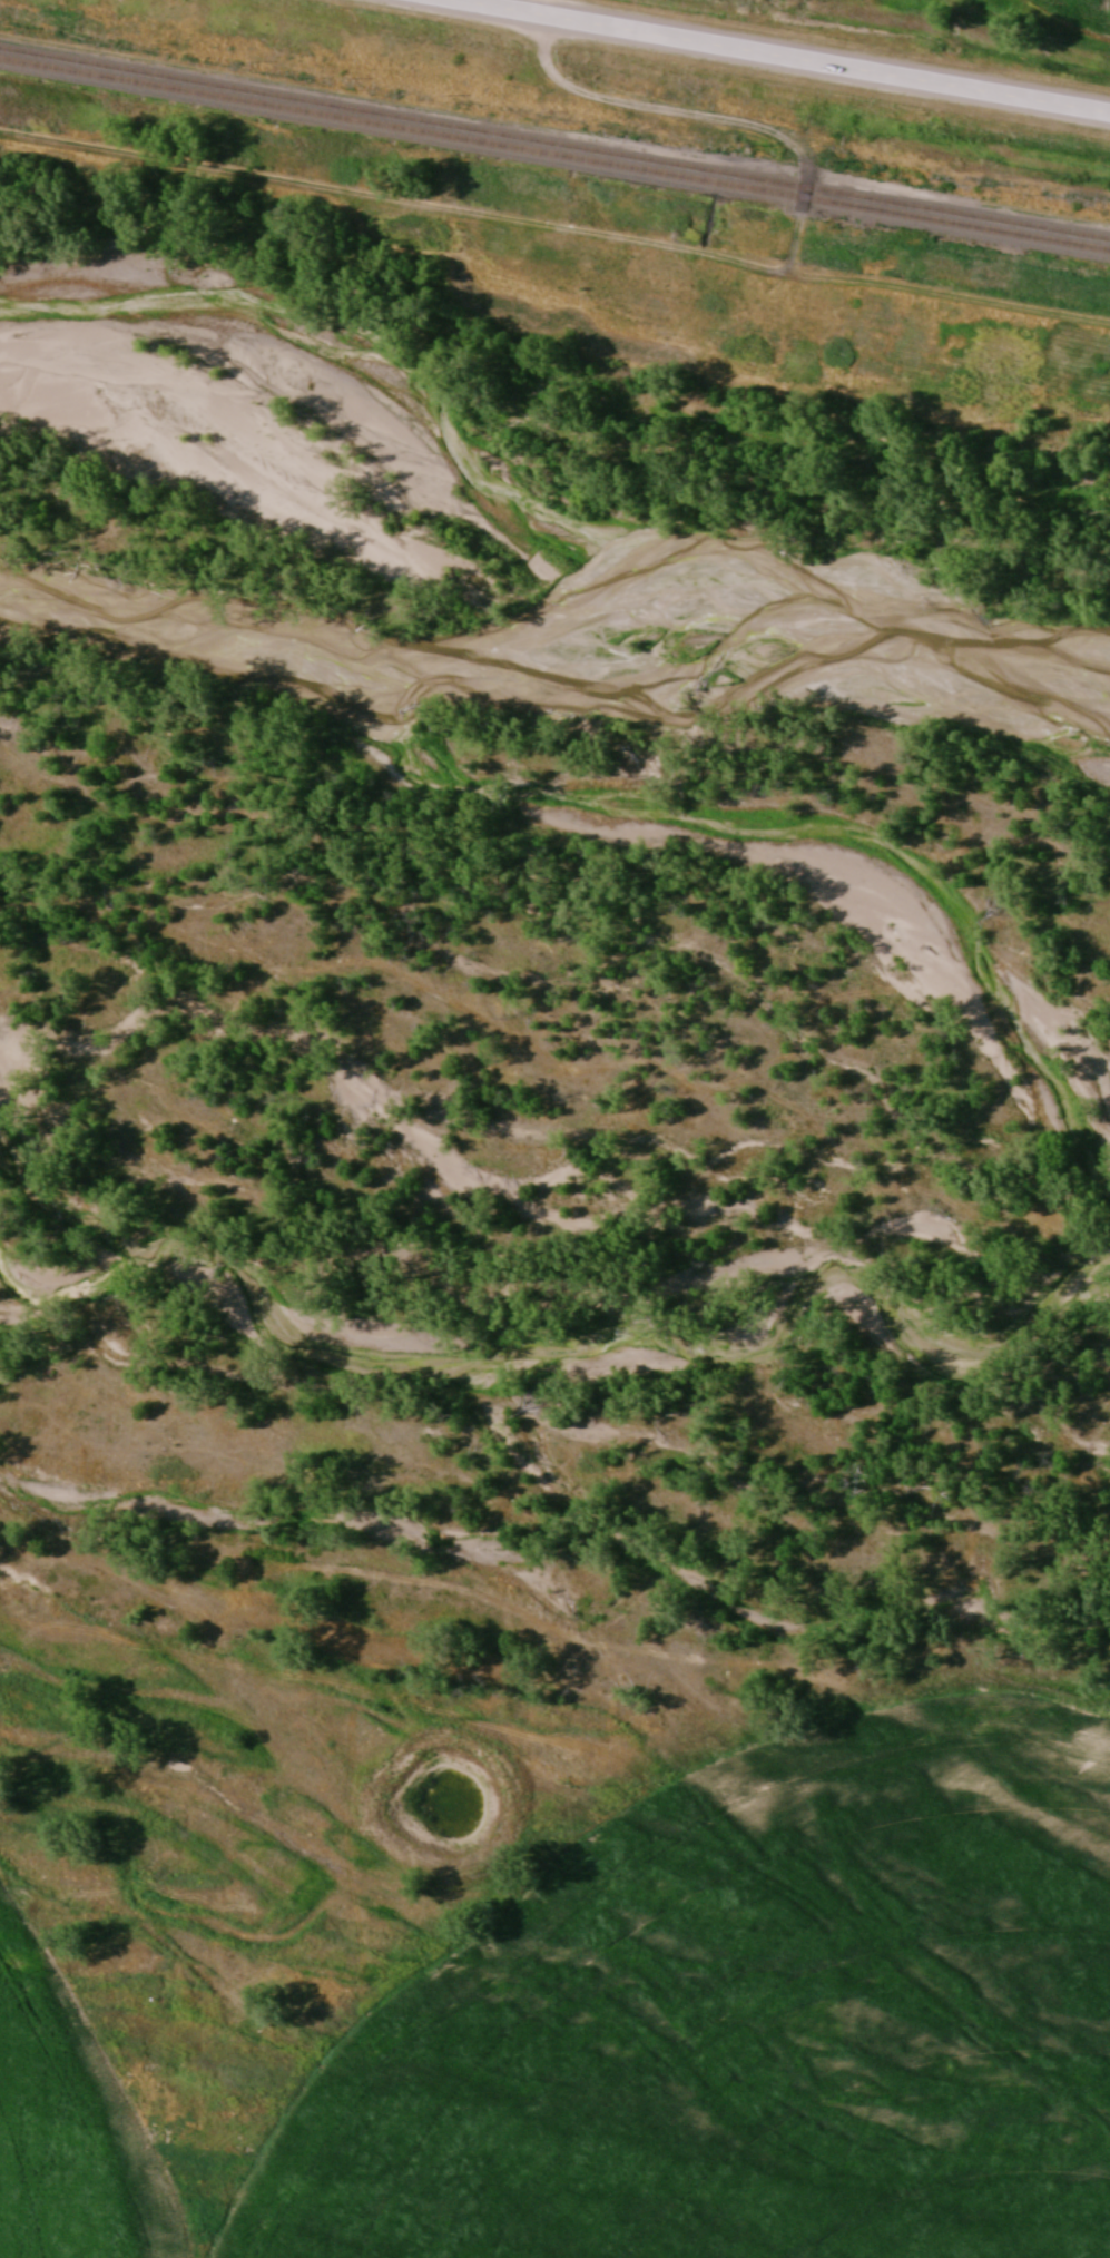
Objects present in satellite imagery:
road: (786, 56)
railway: (554, 144)
railway: (554, 156)
river: (567, 615)

